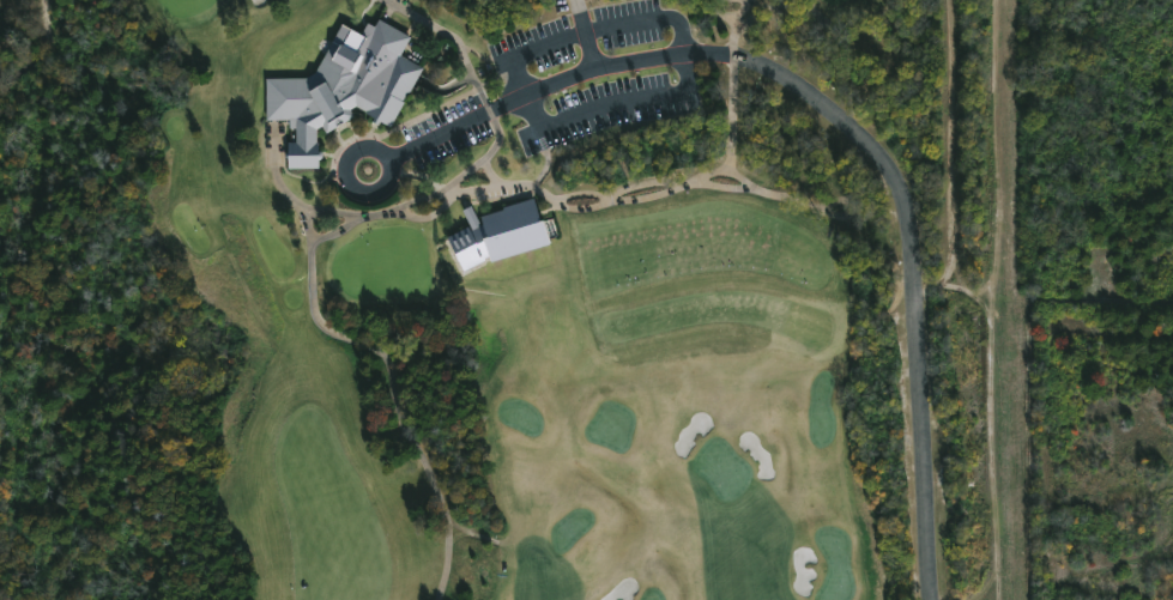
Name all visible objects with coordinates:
park: (834, 1)
park: (186, 6)
road: (582, 36)
road: (682, 40)
road: (36, 50)
building: (345, 91)
road: (845, 122)
road: (382, 152)
road: (492, 152)
road: (335, 216)
building: (489, 230)
park: (383, 265)
park: (472, 299)
road: (386, 359)
park: (821, 410)
road: (1047, 410)
park: (520, 417)
park: (611, 428)
park: (722, 469)
park: (572, 529)
park: (835, 564)
park: (653, 594)

